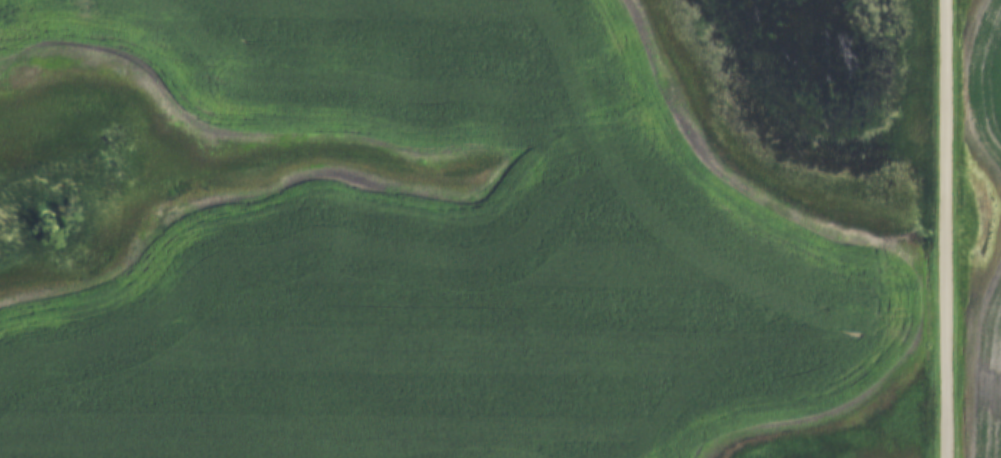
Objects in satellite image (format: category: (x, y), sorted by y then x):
road: (949, 228)

